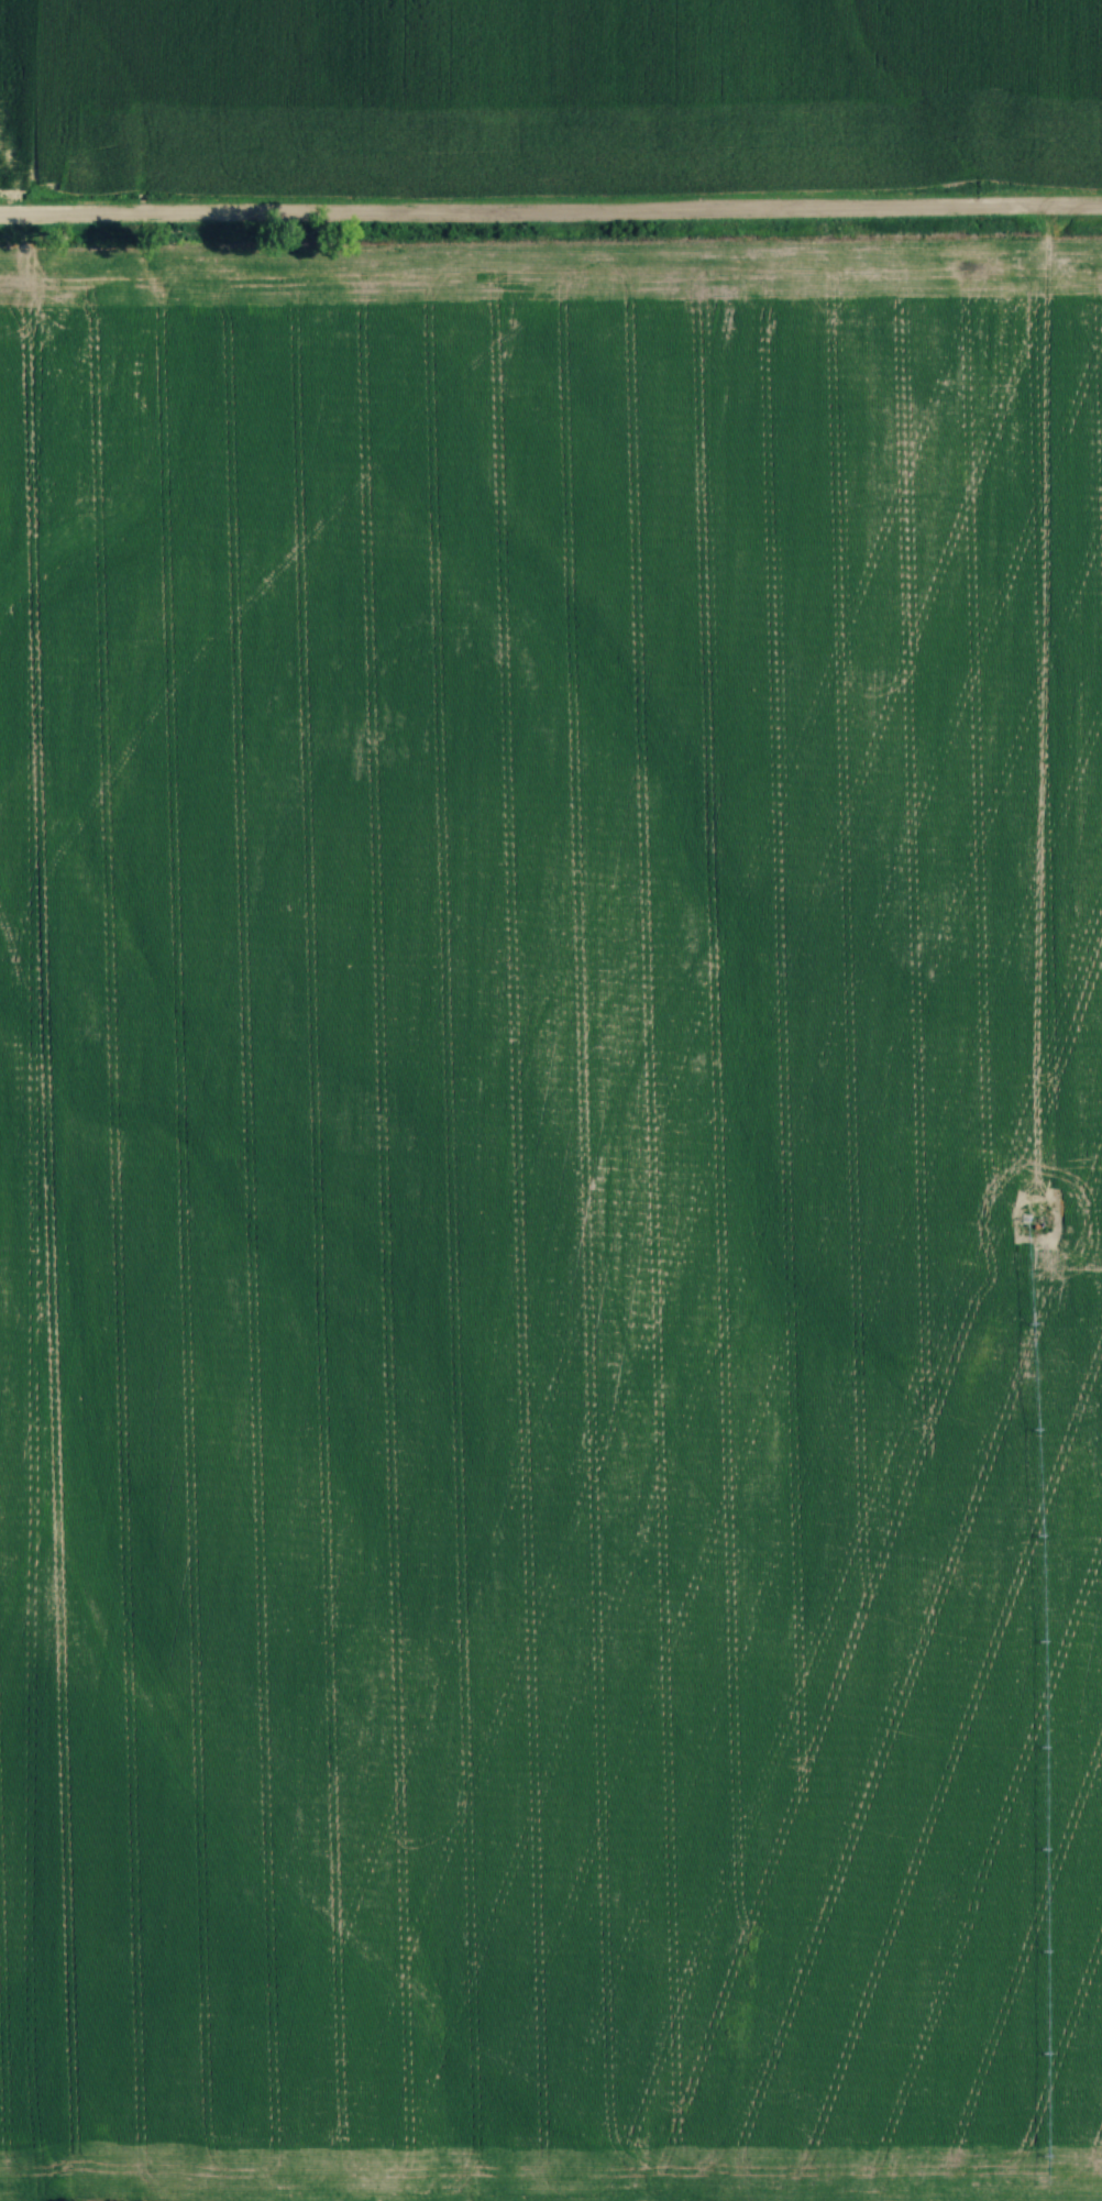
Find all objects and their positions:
road: (551, 217)

